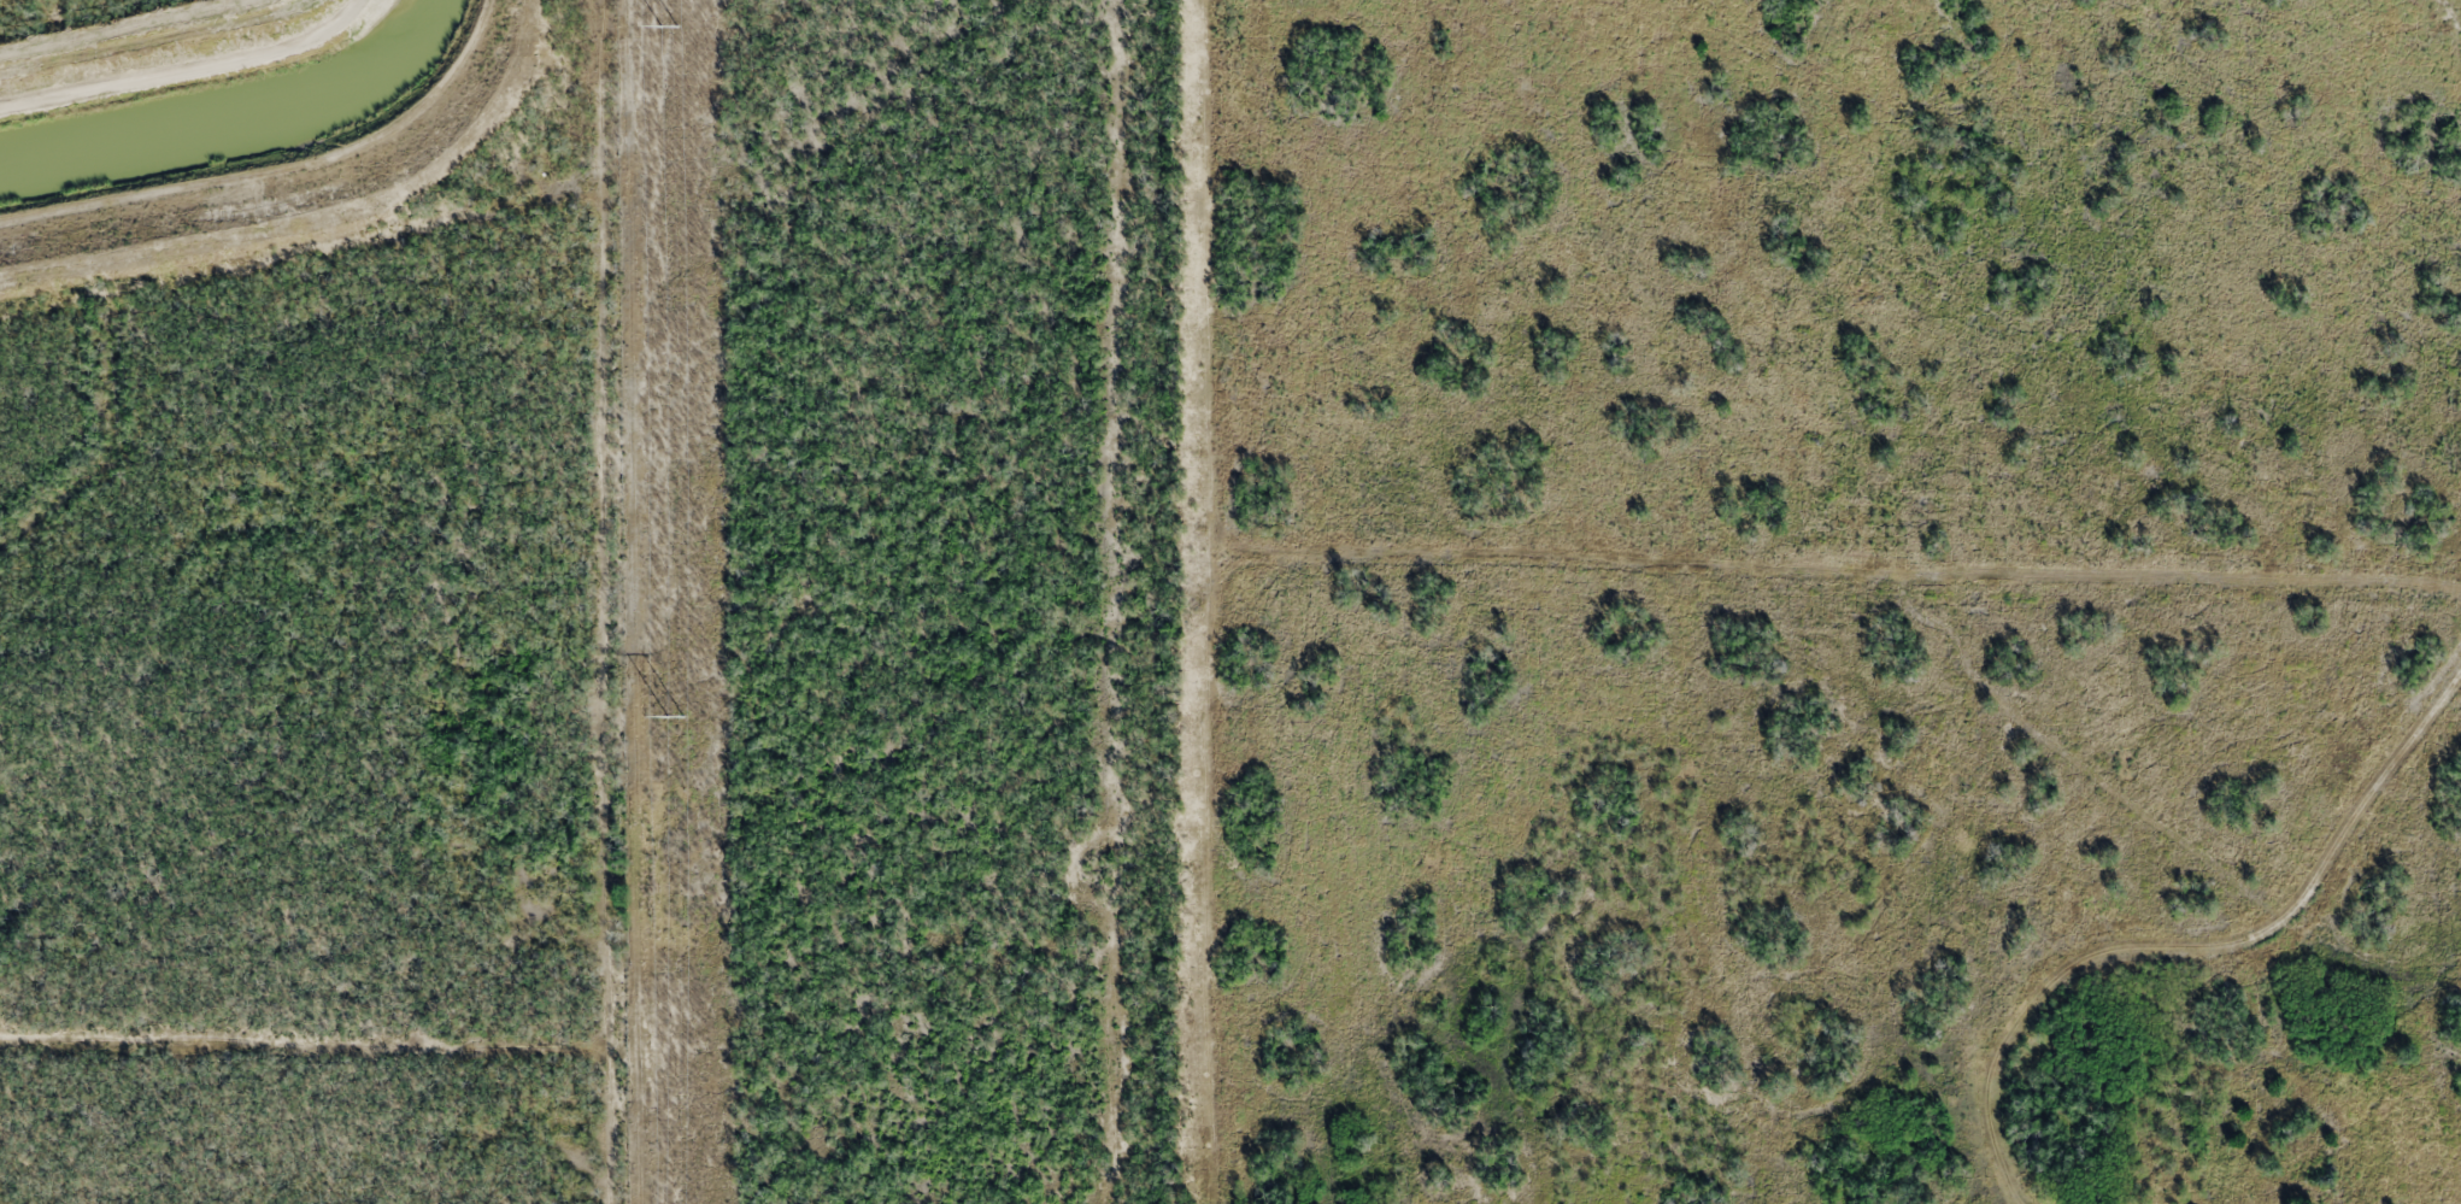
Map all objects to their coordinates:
power tower: (670, 28)
power tower: (675, 720)

